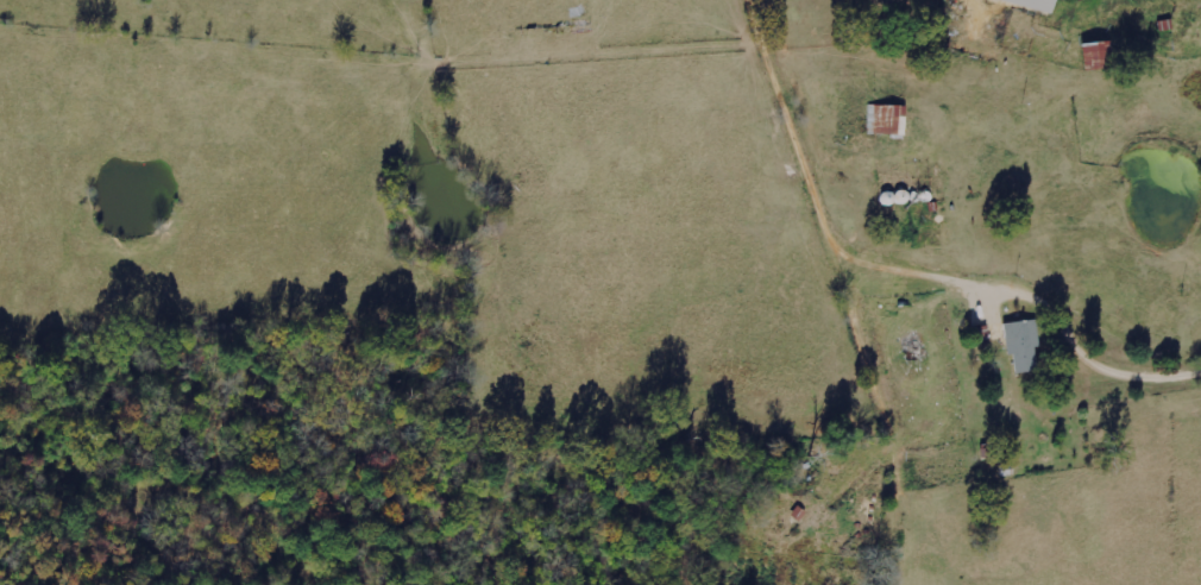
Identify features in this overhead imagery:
building: (1031, 4)
building: (886, 119)
road: (916, 205)

